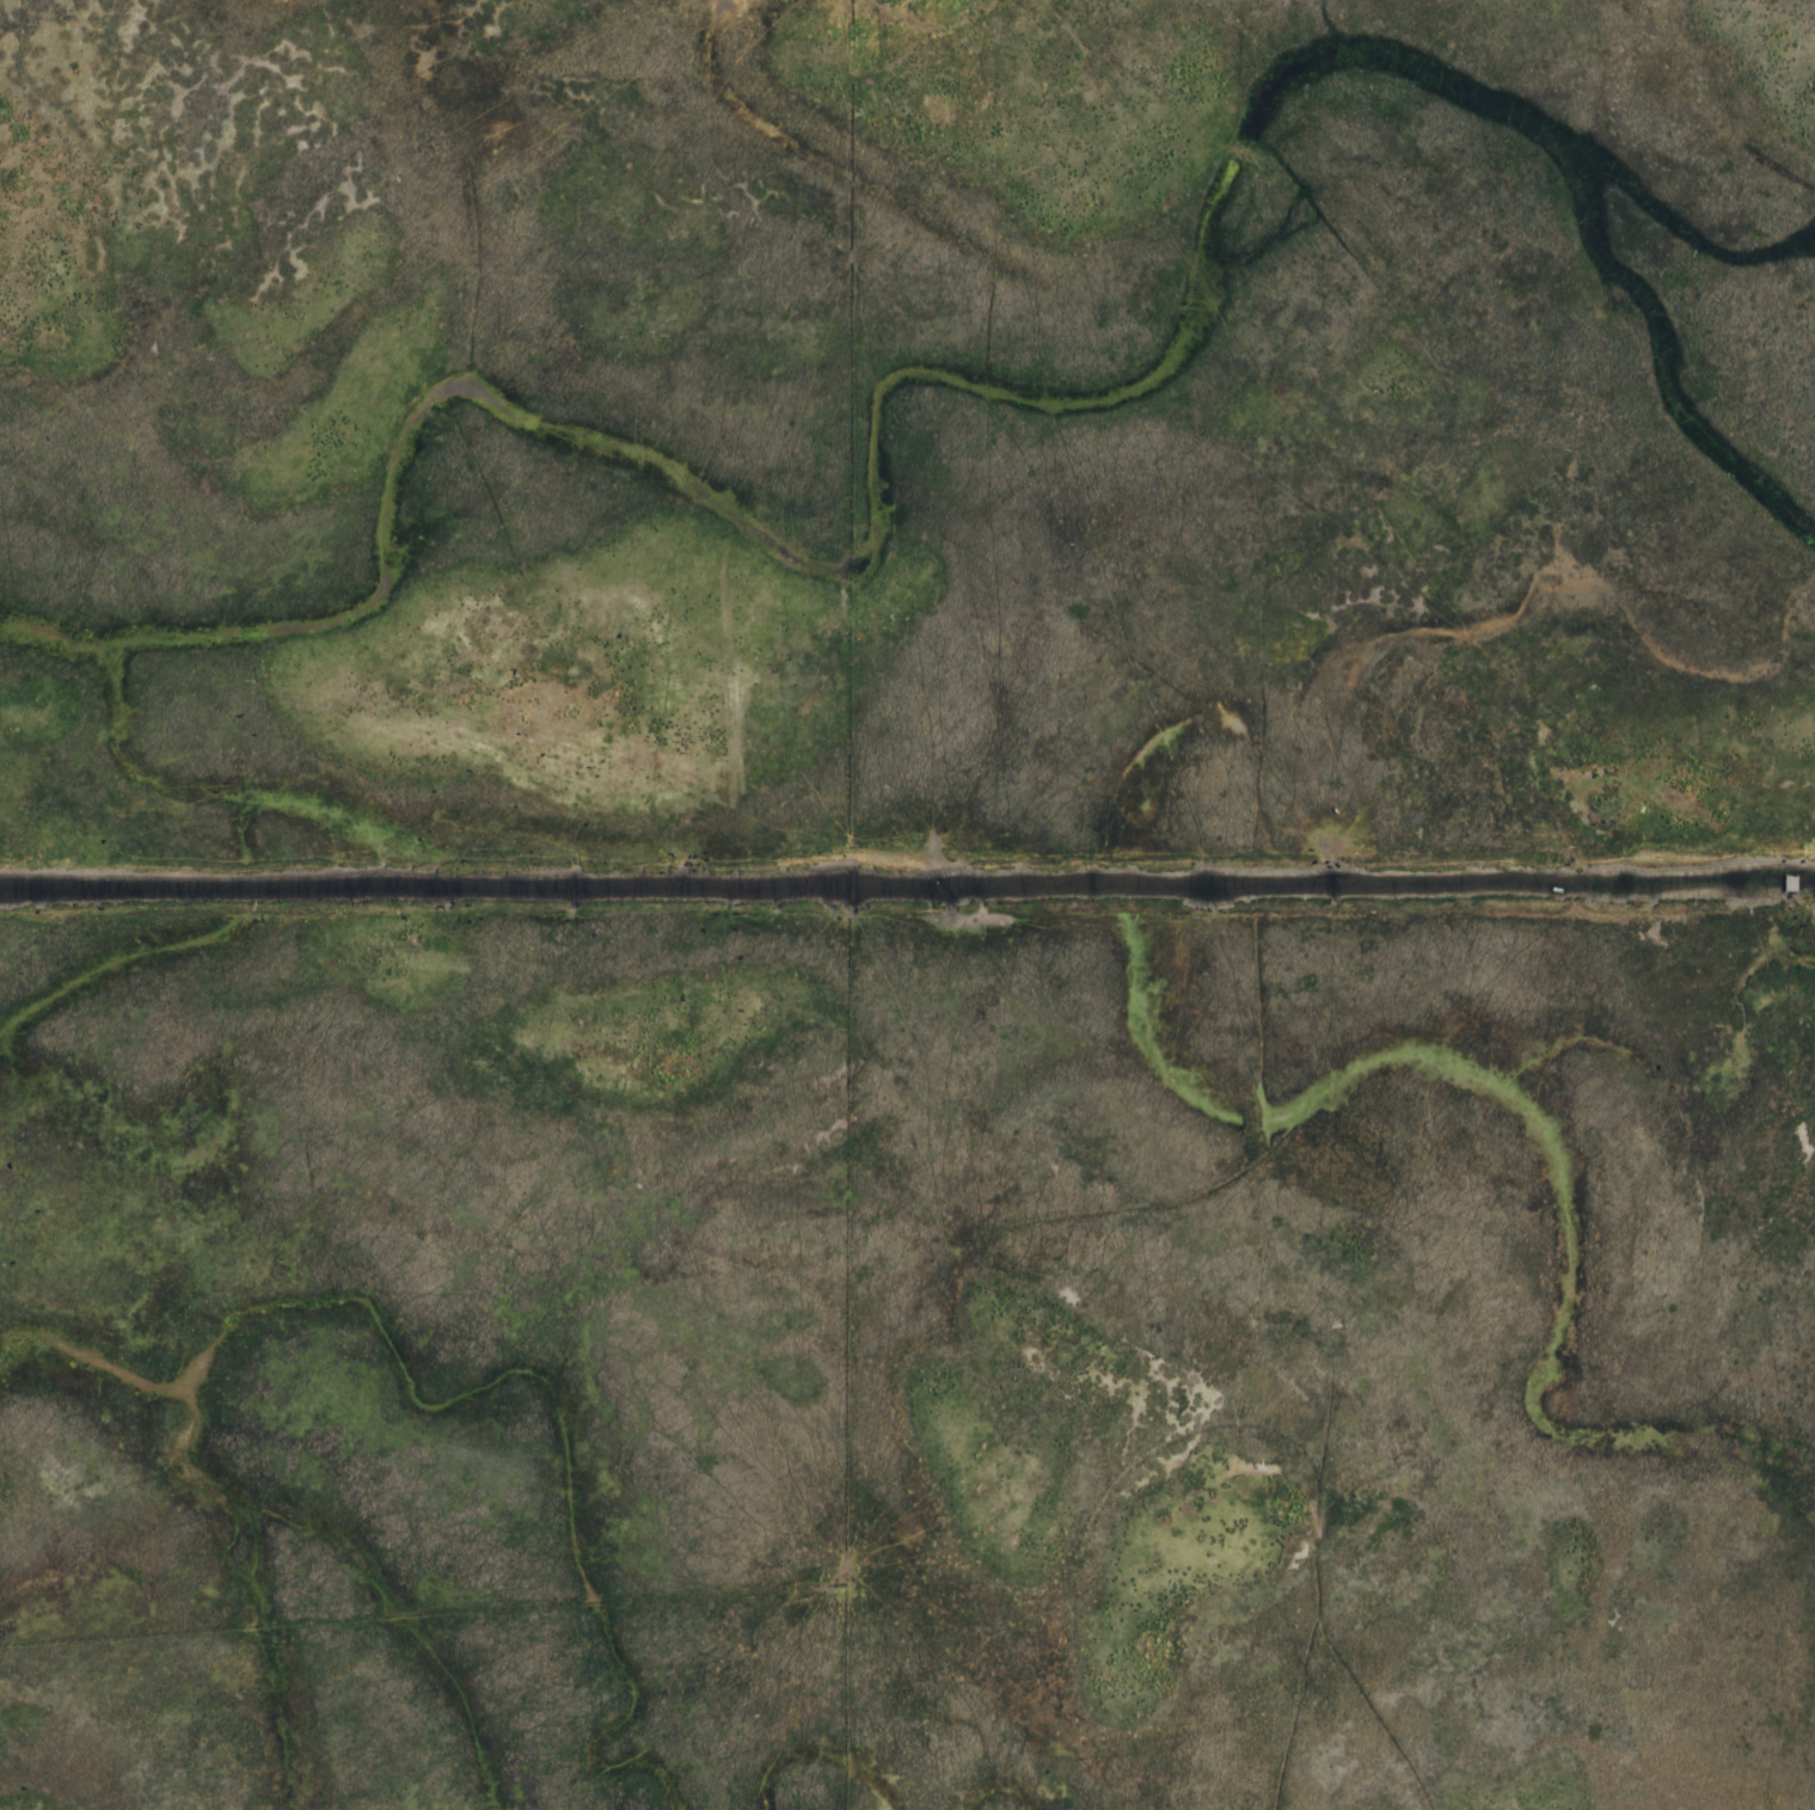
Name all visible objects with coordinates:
crop: (907, 904)

